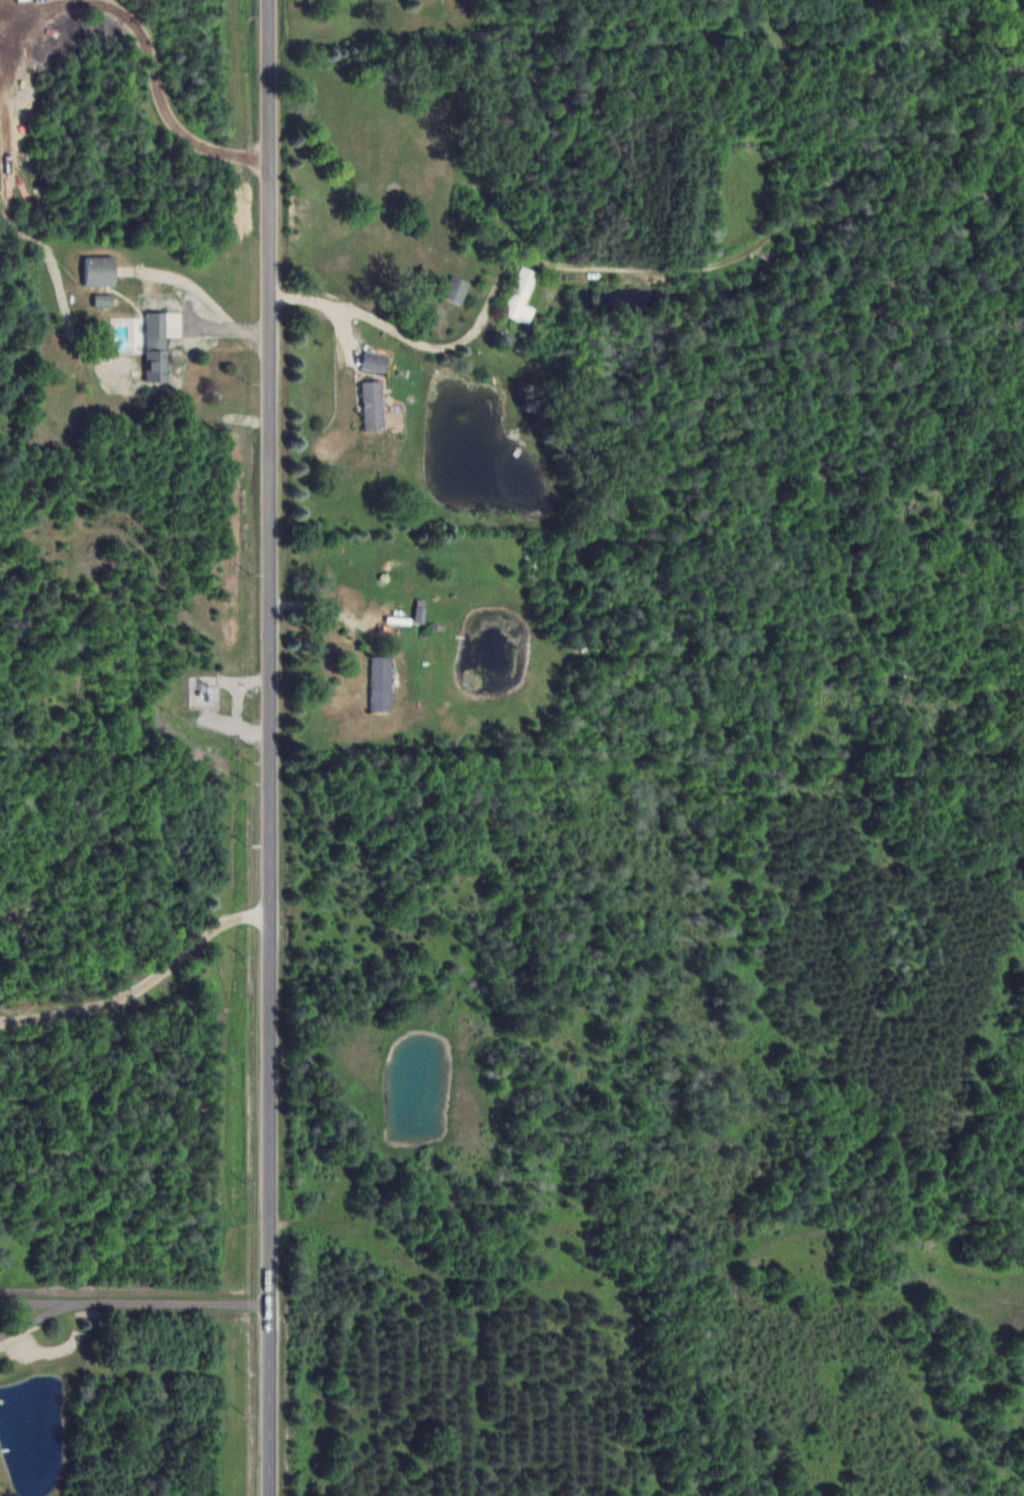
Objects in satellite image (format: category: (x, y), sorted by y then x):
building: (100, 270)
building: (456, 289)
building: (520, 292)
building: (156, 346)
building: (374, 361)
building: (373, 404)
building: (381, 683)
road: (270, 747)
road: (143, 984)
road: (40, 1299)
road: (174, 1300)
road: (40, 1316)

